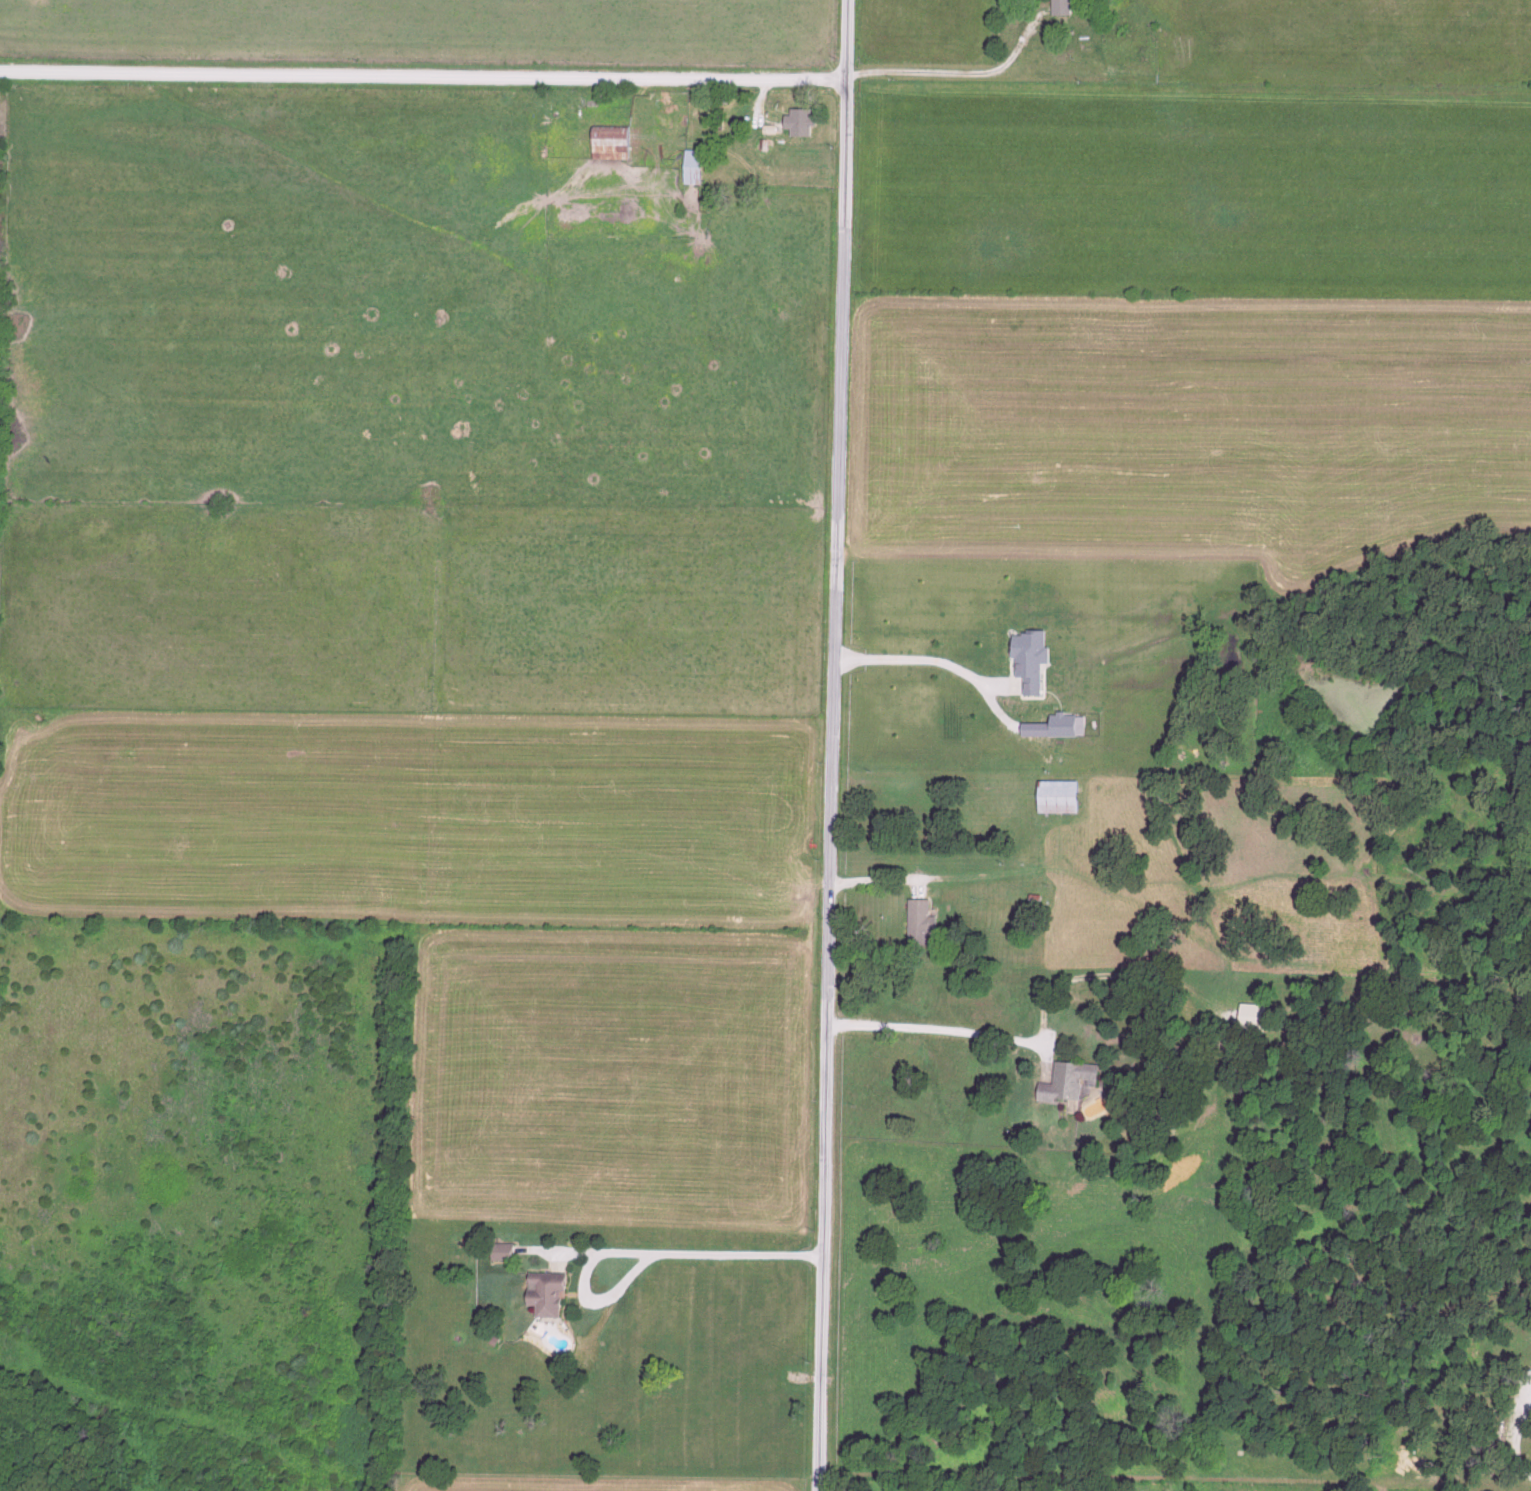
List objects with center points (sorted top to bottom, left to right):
building: (1058, 8)
road: (420, 80)
building: (796, 123)
building: (607, 144)
building: (689, 168)
road: (911, 661)
road: (830, 745)
building: (1055, 797)
building: (917, 923)
building: (1250, 1017)
road: (929, 1029)
building: (1064, 1083)
road: (641, 1255)
building: (541, 1294)
road: (1516, 1435)

